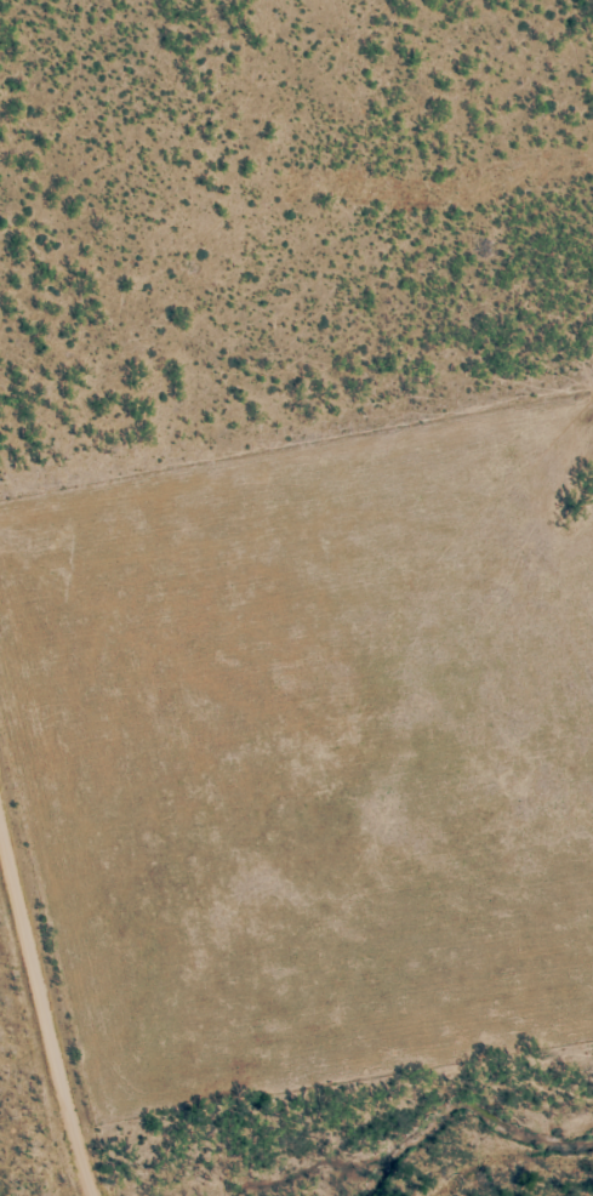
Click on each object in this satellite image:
road: (46, 998)

